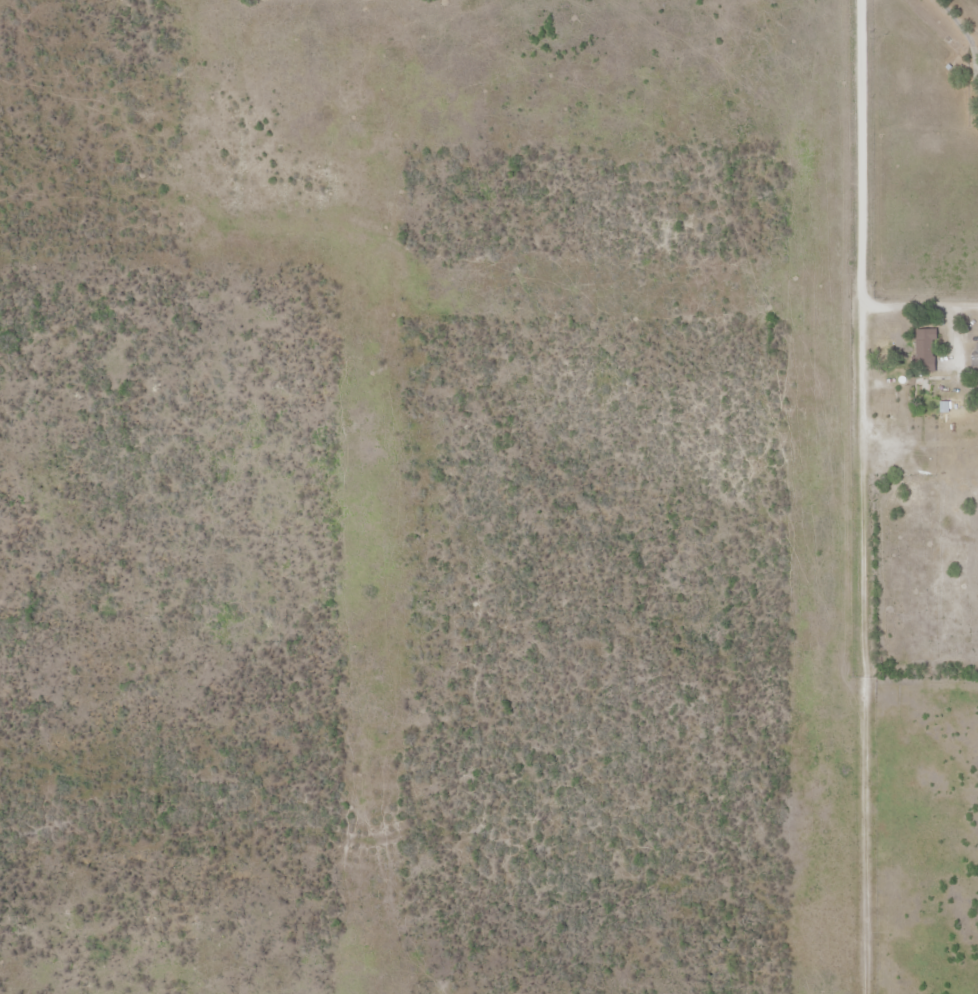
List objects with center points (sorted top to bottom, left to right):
road: (860, 153)
building: (901, 420)
road: (861, 650)

